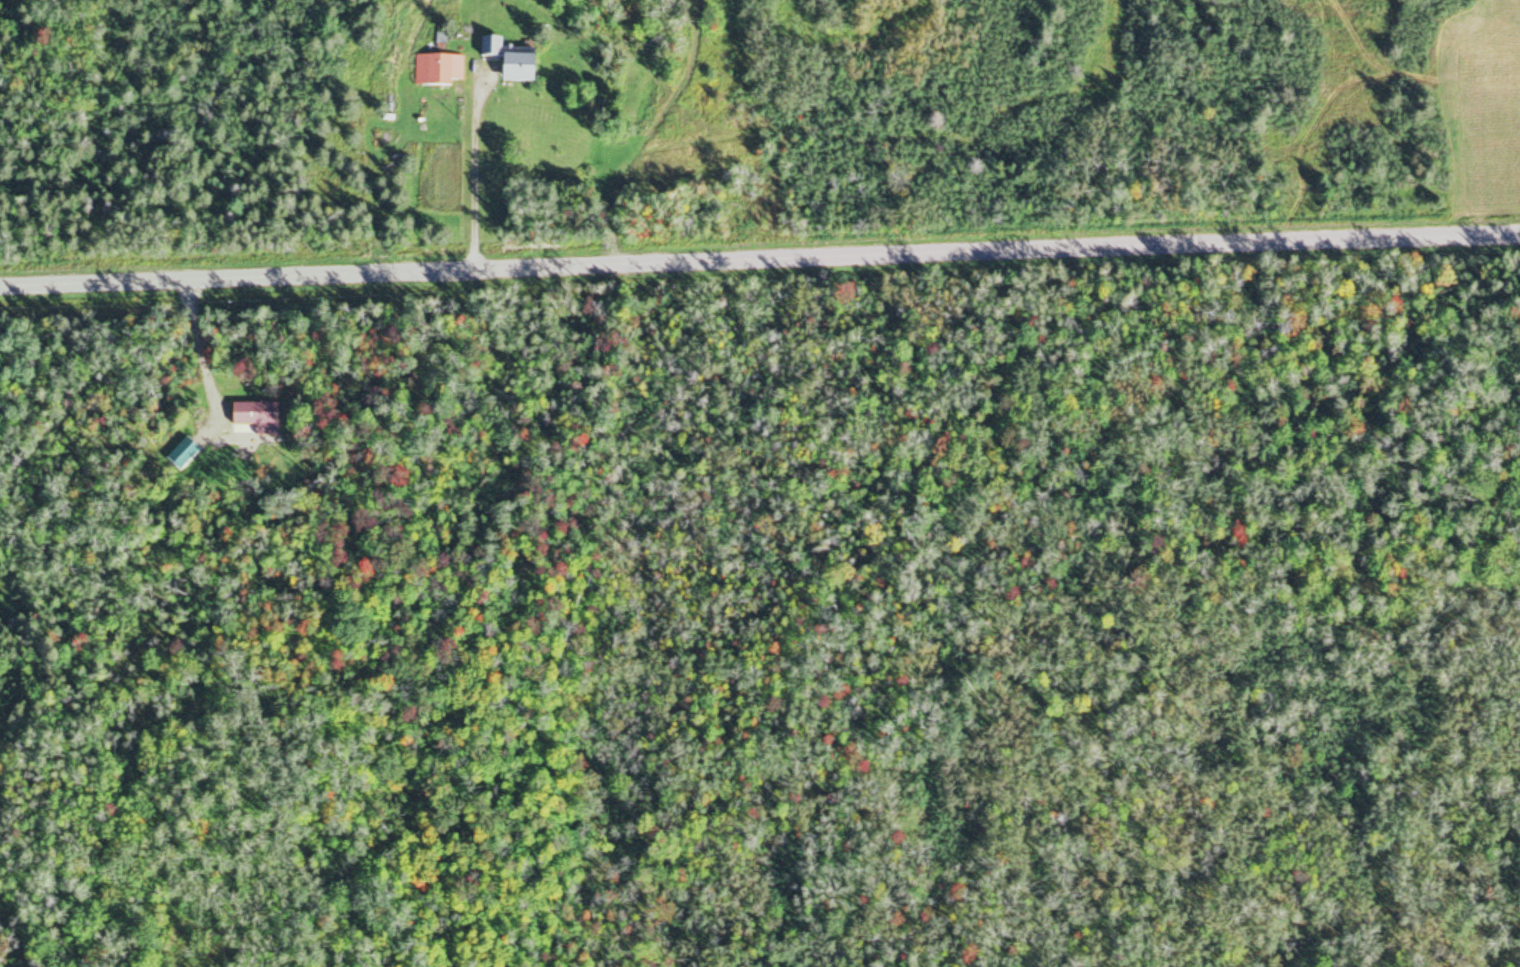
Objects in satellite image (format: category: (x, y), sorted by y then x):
building: (512, 59)
building: (441, 69)
road: (760, 252)
building: (259, 414)

